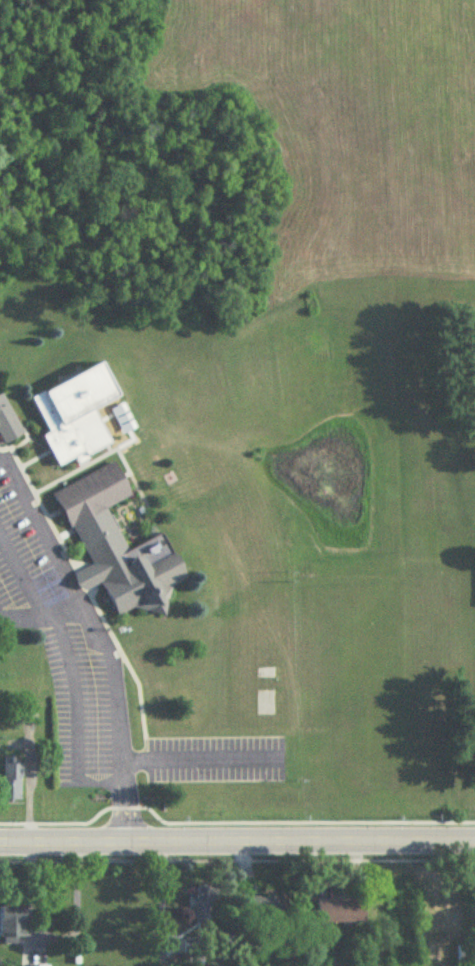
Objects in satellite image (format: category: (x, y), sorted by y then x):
building: (76, 415)
building: (8, 423)
building: (118, 547)
road: (21, 579)
road: (69, 610)
road: (89, 614)
road: (74, 692)
road: (199, 763)
building: (12, 781)
road: (30, 785)
road: (123, 812)
road: (237, 838)
road: (159, 893)
building: (202, 903)
building: (268, 909)
building: (341, 913)
building: (16, 915)
road: (52, 933)
building: (465, 955)

